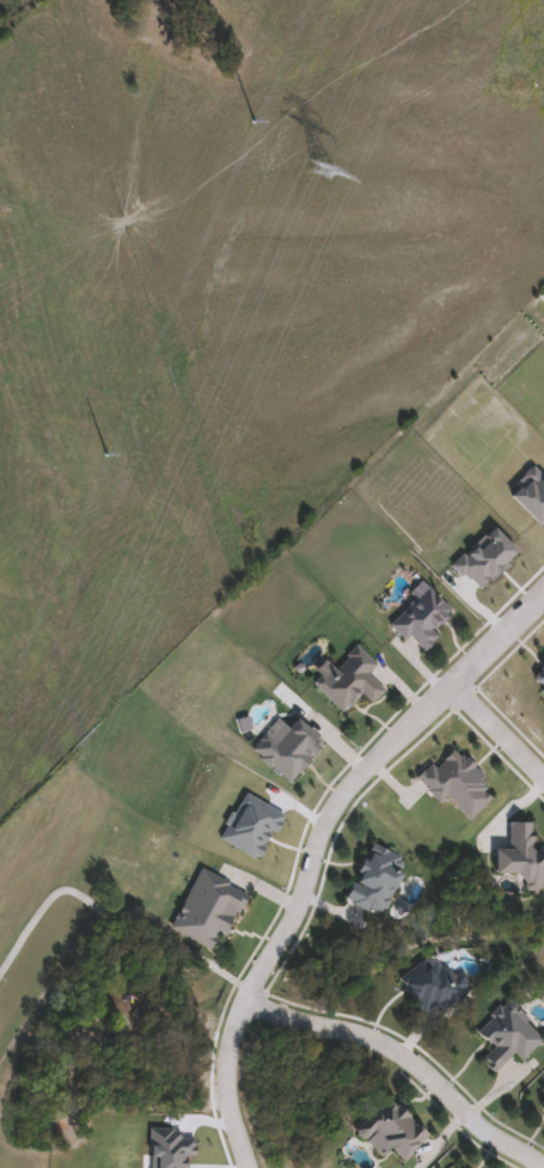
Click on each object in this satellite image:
power tower: (253, 130)
power tower: (320, 172)
power tower: (111, 452)
building: (420, 620)
building: (349, 680)
building: (539, 684)
road: (322, 728)
road: (497, 730)
road: (314, 846)
building: (374, 880)
building: (433, 986)
building: (508, 1038)
road: (405, 1058)
building: (542, 1099)
building: (390, 1132)
building: (458, 1167)

